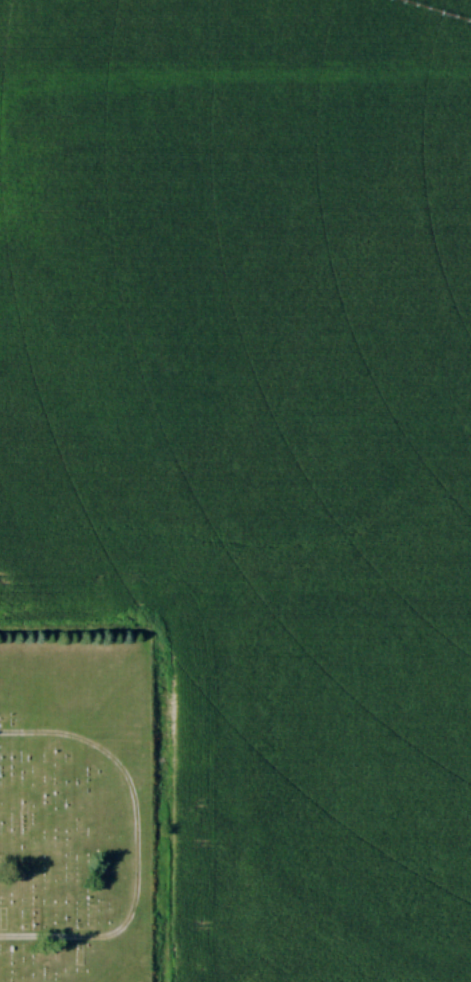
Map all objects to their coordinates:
park: (82, 802)
road: (138, 848)

